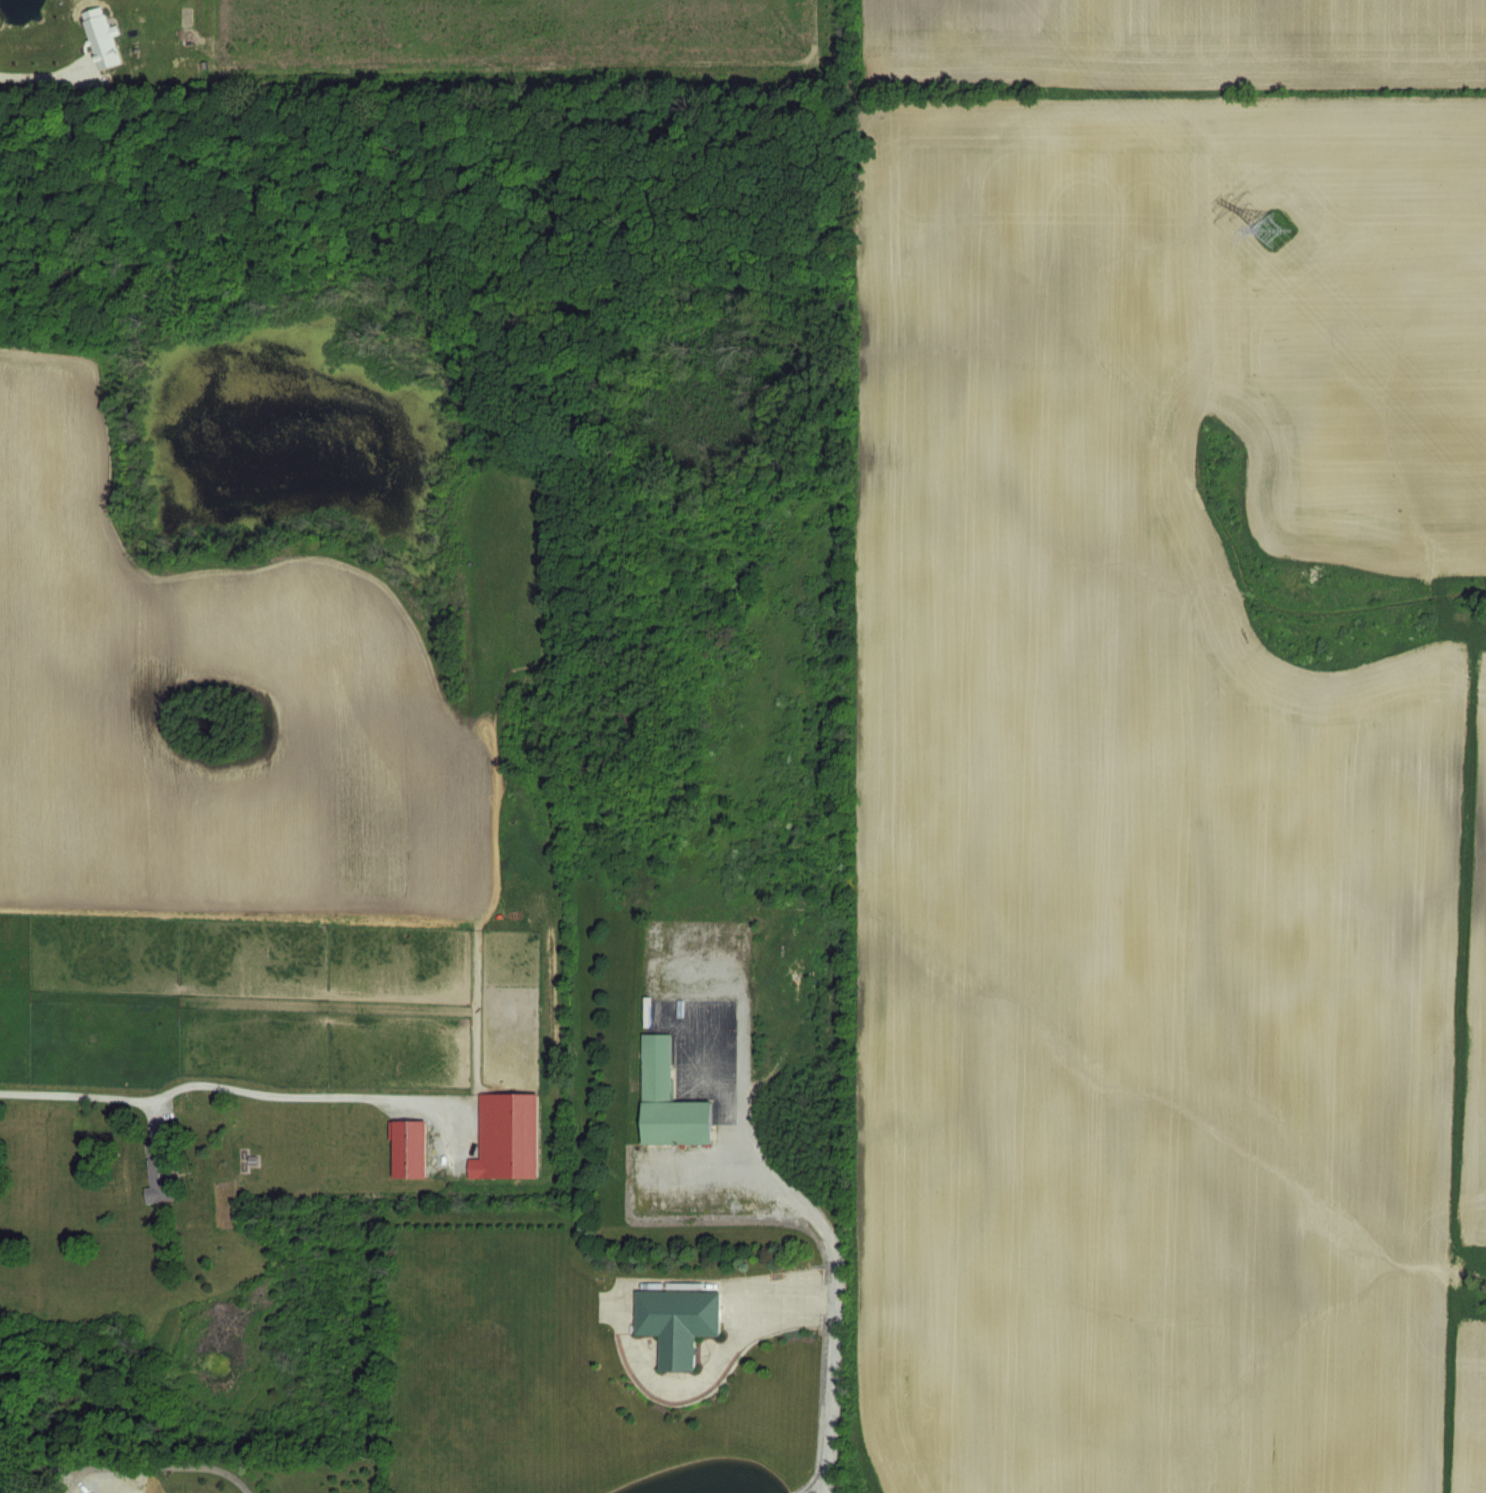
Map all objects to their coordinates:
road: (51, 74)
power tower: (1272, 229)
building: (652, 936)
road: (218, 1086)
building: (668, 1100)
building: (188, 1108)
building: (158, 1173)
road: (835, 1294)
building: (673, 1327)
road: (171, 1466)
road: (40, 1468)

